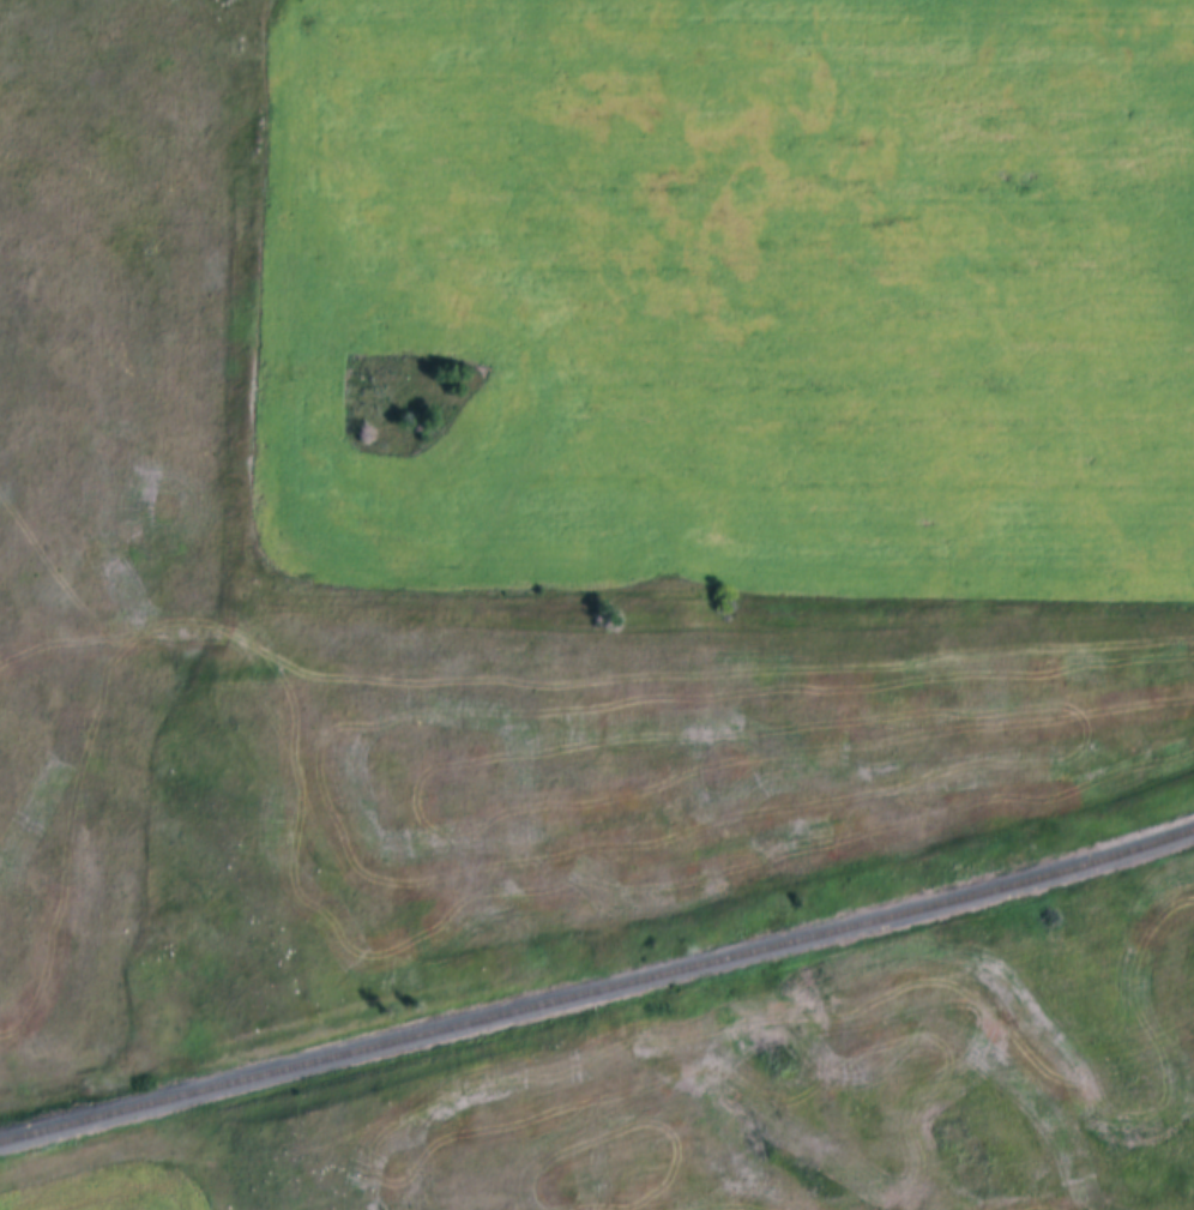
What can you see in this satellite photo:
railway: (598, 989)

